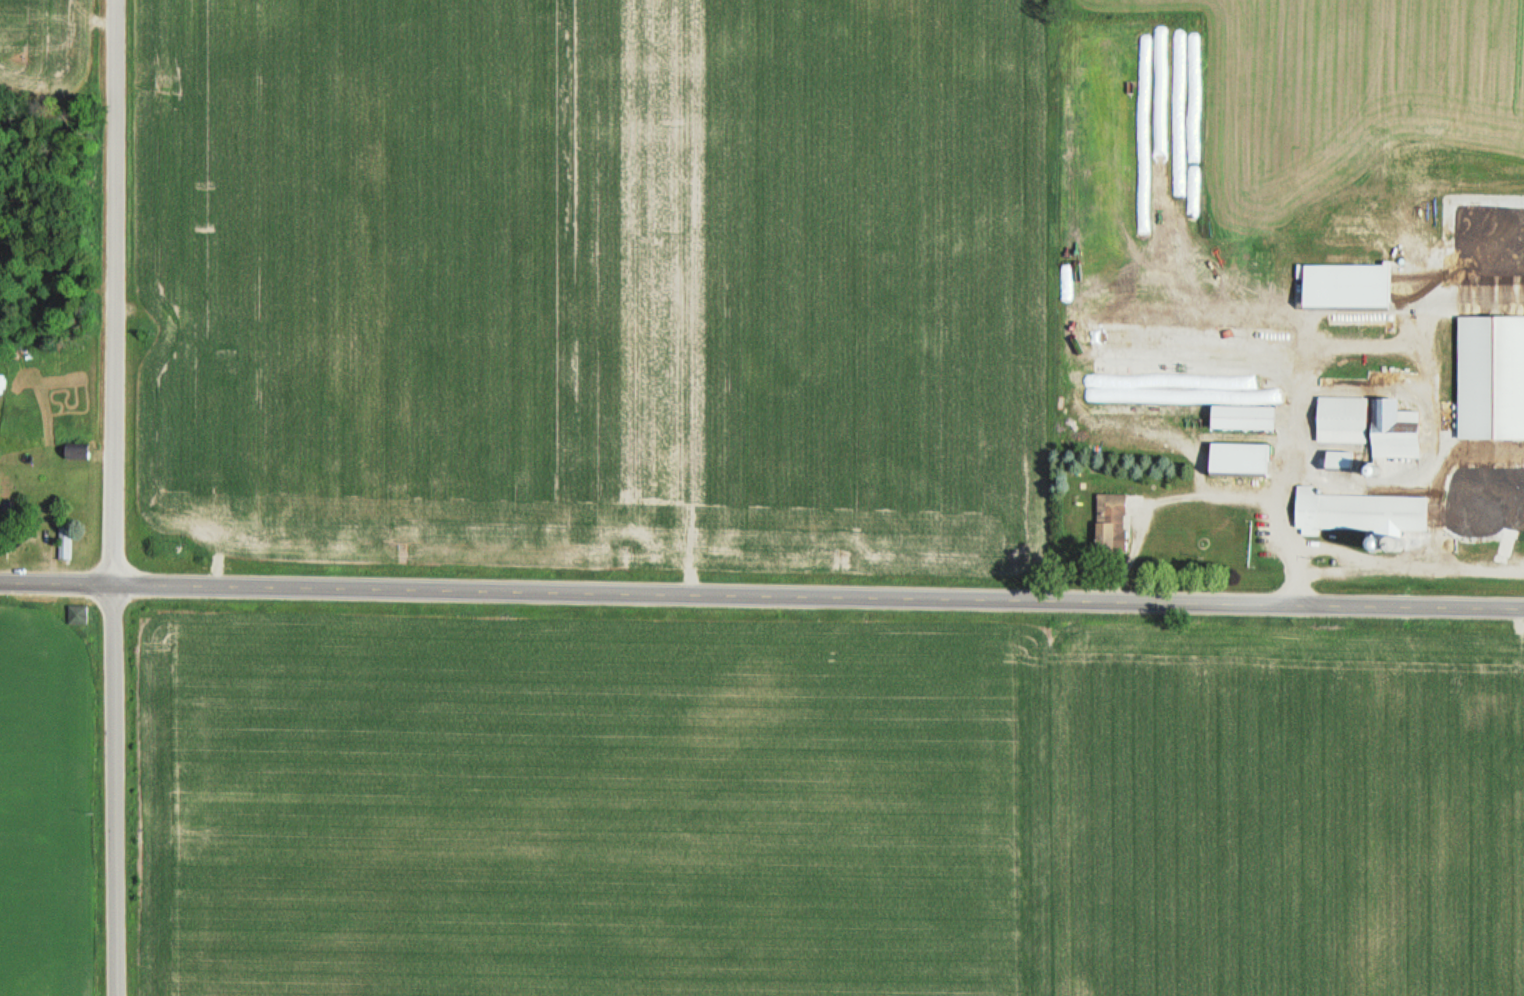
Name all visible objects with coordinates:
building: (1361, 286)
building: (1491, 379)
building: (1241, 418)
building: (1368, 426)
building: (75, 450)
building: (1237, 459)
building: (1337, 460)
road: (114, 498)
building: (1360, 514)
building: (1109, 522)
building: (62, 539)
road: (761, 594)
building: (76, 614)

